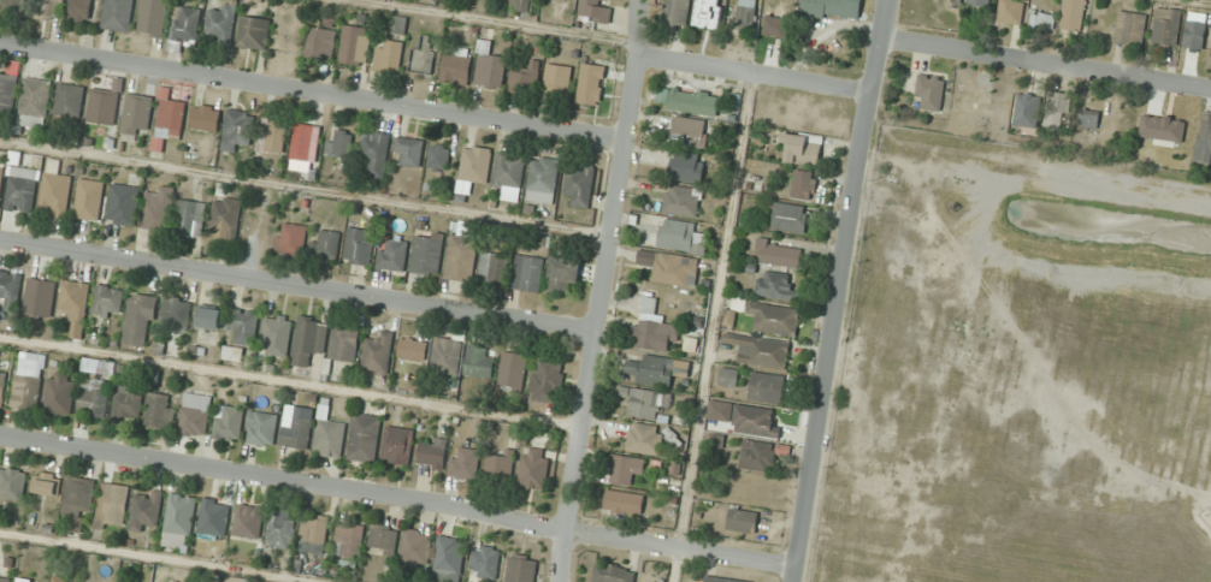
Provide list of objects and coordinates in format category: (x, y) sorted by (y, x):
building: (982, 2)
building: (16, 5)
building: (524, 5)
building: (833, 8)
building: (52, 10)
building: (81, 10)
building: (595, 10)
building: (1010, 11)
building: (677, 12)
building: (708, 13)
building: (118, 14)
building: (746, 14)
building: (1073, 14)
building: (153, 17)
building: (1041, 19)
building: (185, 24)
building: (221, 24)
building: (398, 25)
building: (1165, 26)
building: (1130, 28)
building: (254, 32)
building: (321, 43)
building: (355, 46)
building: (423, 55)
building: (389, 57)
road: (1046, 60)
building: (455, 69)
building: (490, 71)
road: (754, 72)
building: (557, 79)
building: (522, 81)
building: (591, 84)
road: (311, 90)
building: (931, 91)
building: (8, 93)
building: (70, 100)
building: (693, 101)
building: (36, 102)
building: (104, 106)
building: (1026, 111)
building: (1056, 111)
building: (138, 113)
building: (171, 118)
building: (206, 118)
building: (1088, 119)
building: (238, 127)
building: (687, 132)
building: (273, 136)
building: (1204, 138)
building: (341, 143)
building: (306, 148)
building: (801, 148)
building: (409, 152)
building: (376, 154)
building: (439, 156)
building: (475, 164)
building: (687, 167)
building: (509, 171)
building: (2, 172)
building: (543, 179)
building: (802, 184)
building: (579, 186)
building: (22, 189)
building: (57, 194)
building: (90, 200)
building: (681, 201)
building: (123, 204)
building: (158, 210)
building: (191, 218)
building: (790, 218)
building: (228, 219)
building: (679, 236)
building: (291, 239)
building: (327, 244)
building: (359, 247)
building: (427, 254)
building: (778, 254)
building: (392, 255)
building: (461, 257)
building: (671, 267)
building: (494, 268)
building: (528, 273)
building: (563, 274)
building: (774, 286)
building: (11, 289)
road: (301, 289)
road: (607, 291)
road: (838, 291)
building: (40, 297)
building: (108, 302)
building: (76, 307)
building: (177, 314)
building: (764, 316)
building: (209, 317)
building: (140, 320)
building: (243, 325)
building: (651, 327)
building: (277, 335)
building: (309, 340)
building: (345, 344)
building: (378, 352)
building: (433, 352)
building: (762, 352)
building: (234, 354)
building: (478, 364)
building: (99, 367)
building: (514, 370)
building: (652, 370)
building: (728, 378)
building: (548, 380)
building: (2, 387)
building: (766, 387)
building: (26, 392)
building: (60, 393)
building: (93, 397)
building: (645, 402)
building: (128, 403)
building: (160, 410)
building: (195, 414)
building: (755, 421)
building: (228, 422)
building: (261, 428)
building: (296, 432)
building: (330, 438)
building: (365, 438)
building: (645, 439)
building: (400, 445)
building: (433, 453)
building: (758, 455)
building: (466, 464)
building: (501, 465)
building: (534, 468)
building: (625, 469)
building: (12, 483)
building: (46, 483)
building: (78, 501)
building: (624, 501)
road: (396, 503)
building: (112, 505)
building: (146, 510)
building: (214, 511)
building: (742, 519)
building: (179, 521)
building: (248, 521)
building: (280, 530)
building: (314, 531)
building: (384, 539)
building: (349, 540)
building: (417, 550)
building: (449, 559)
building: (485, 562)
building: (521, 569)
building: (614, 574)
building: (64, 578)
building: (5, 580)
building: (722, 580)

